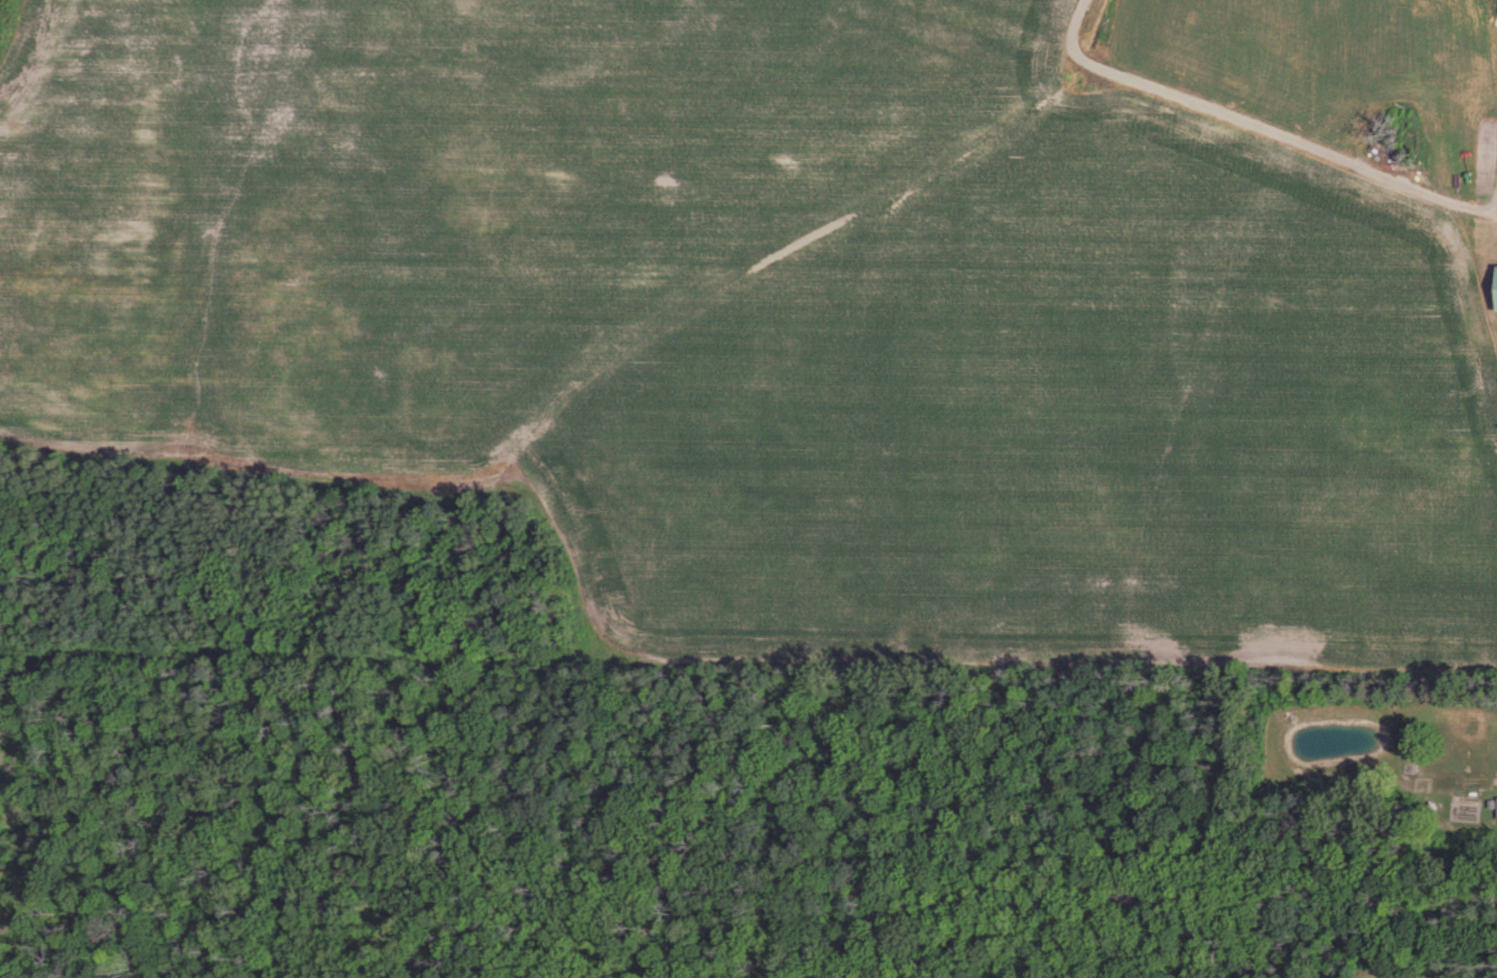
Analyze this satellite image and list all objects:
building: (1491, 288)

